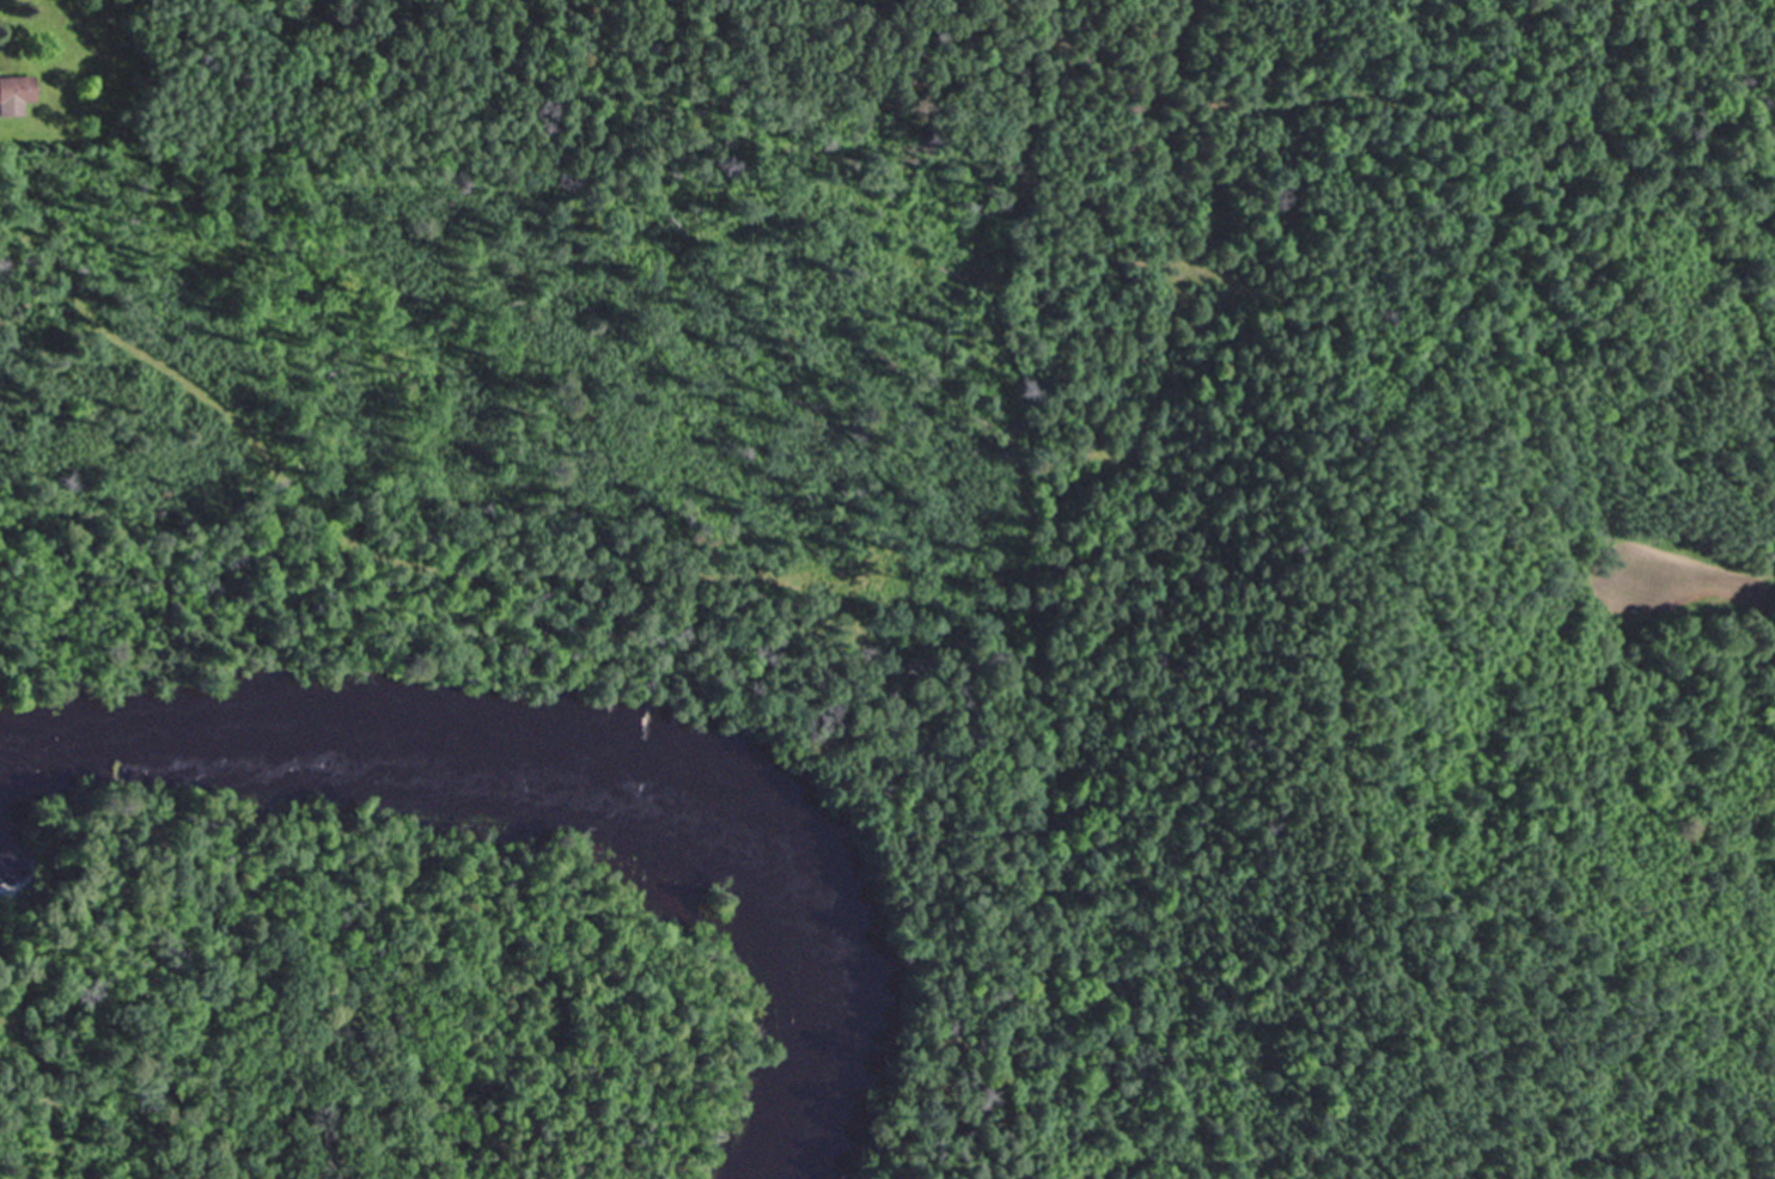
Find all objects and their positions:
building: (16, 94)
river: (569, 764)

